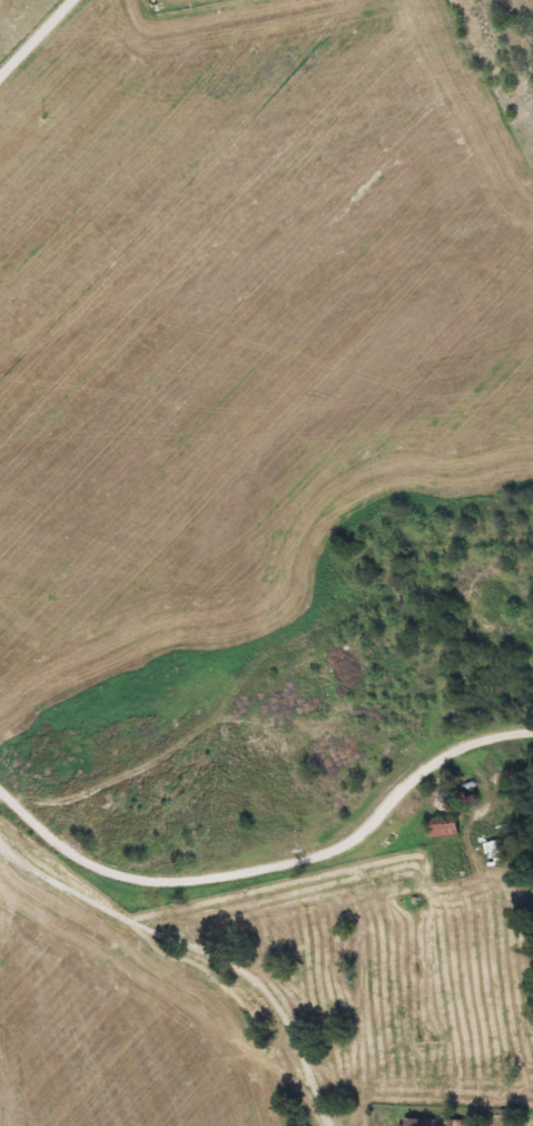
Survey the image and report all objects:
road: (34, 37)
building: (448, 828)
road: (334, 849)
building: (496, 850)
road: (194, 936)
road: (318, 940)
building: (420, 1122)

